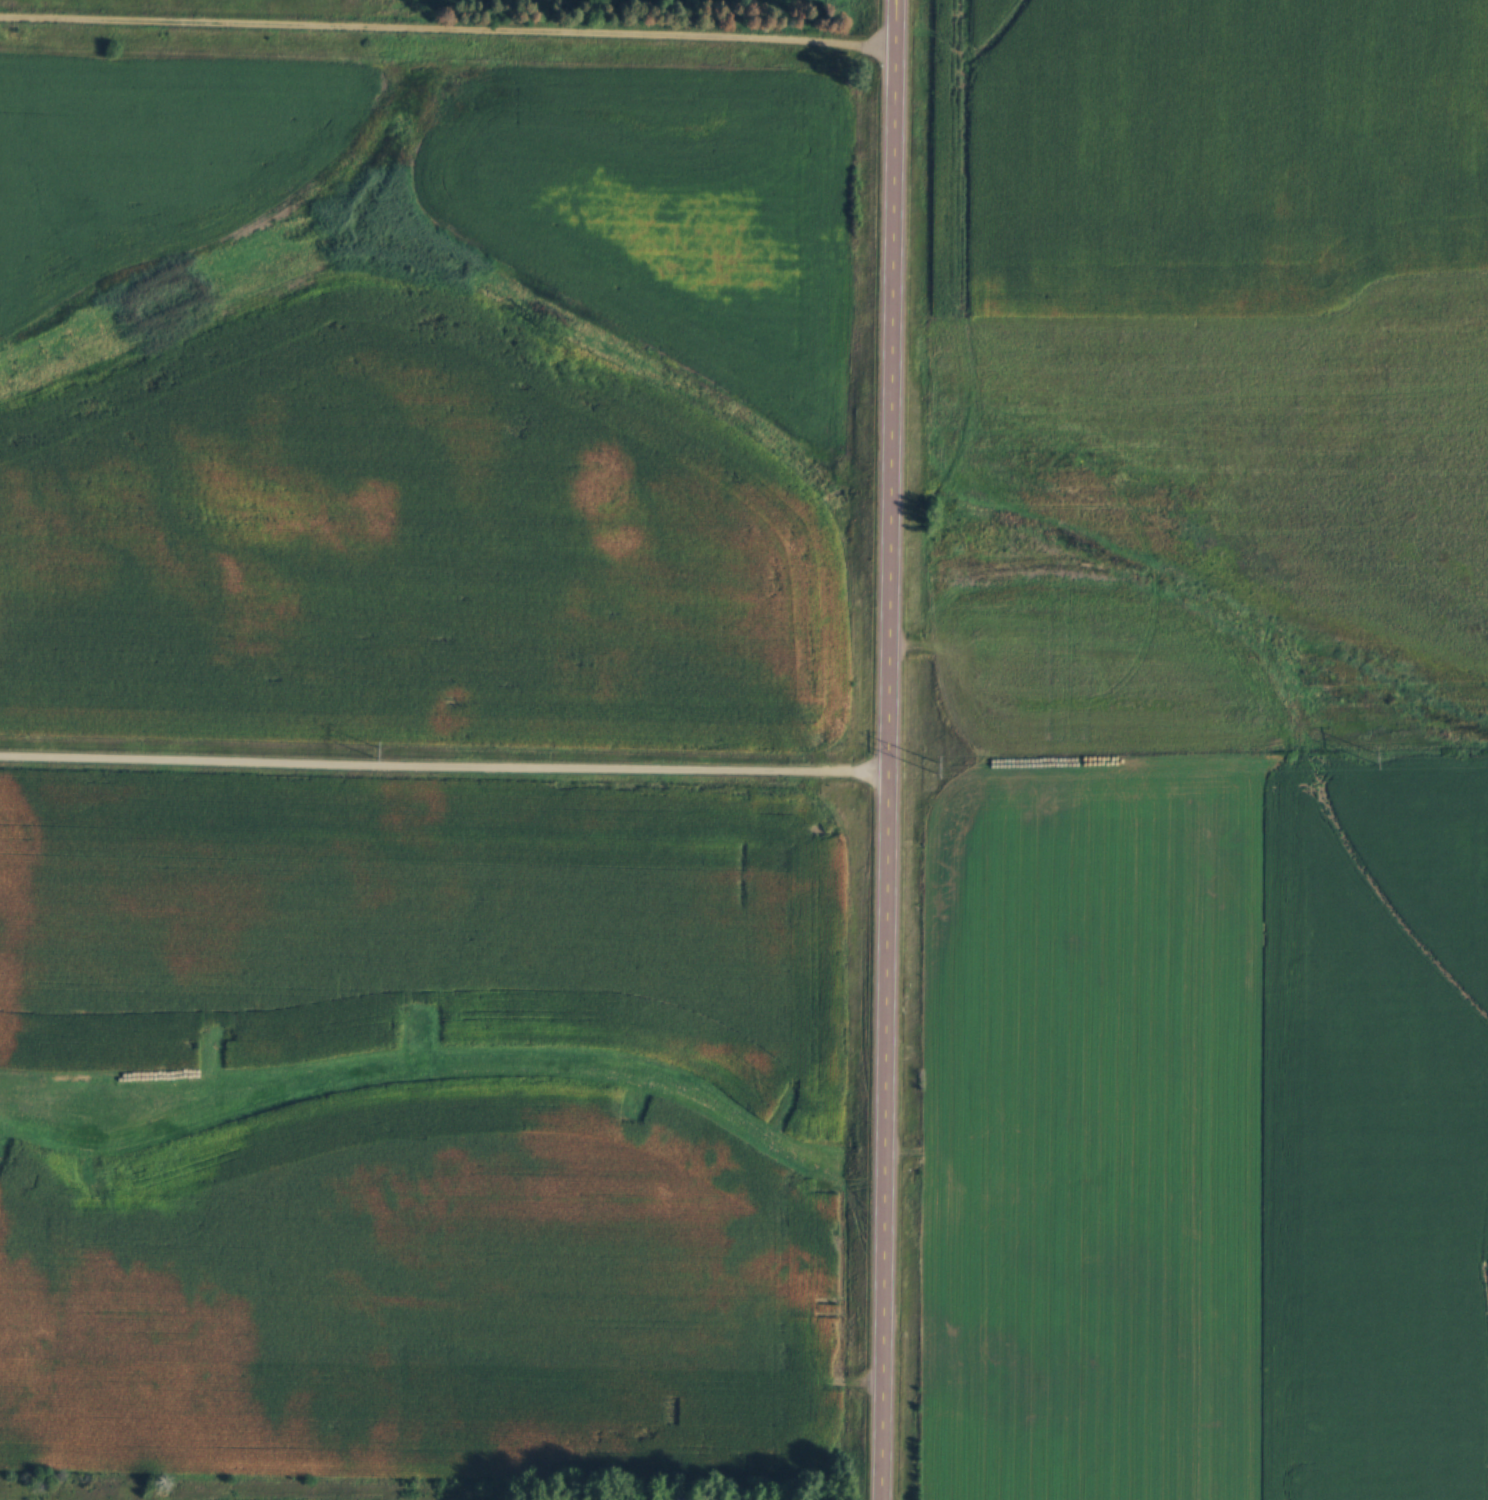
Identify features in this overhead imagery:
road: (446, 30)
road: (887, 750)
power tower: (374, 754)
power tower: (1374, 761)
power tower: (935, 769)
building: (692, 1497)

